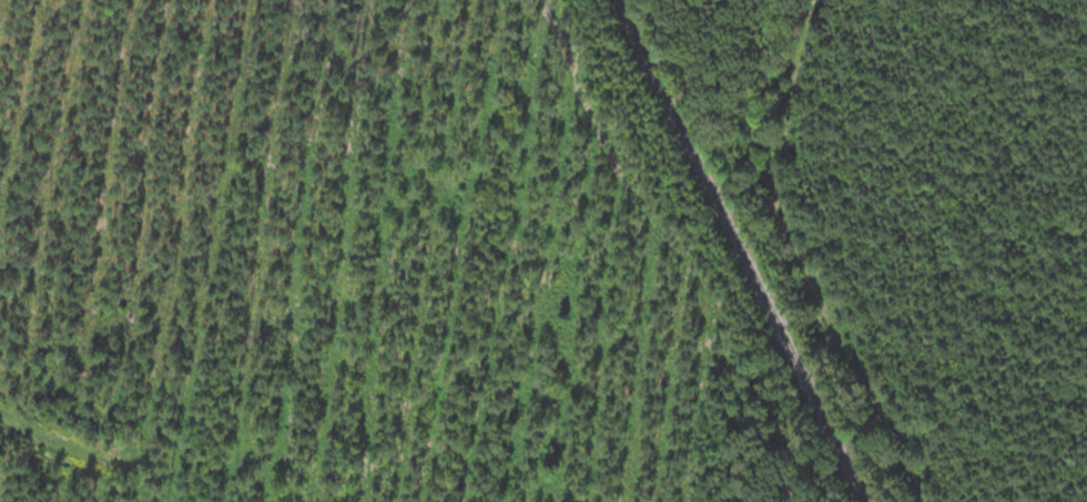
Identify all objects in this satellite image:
railway: (742, 250)

